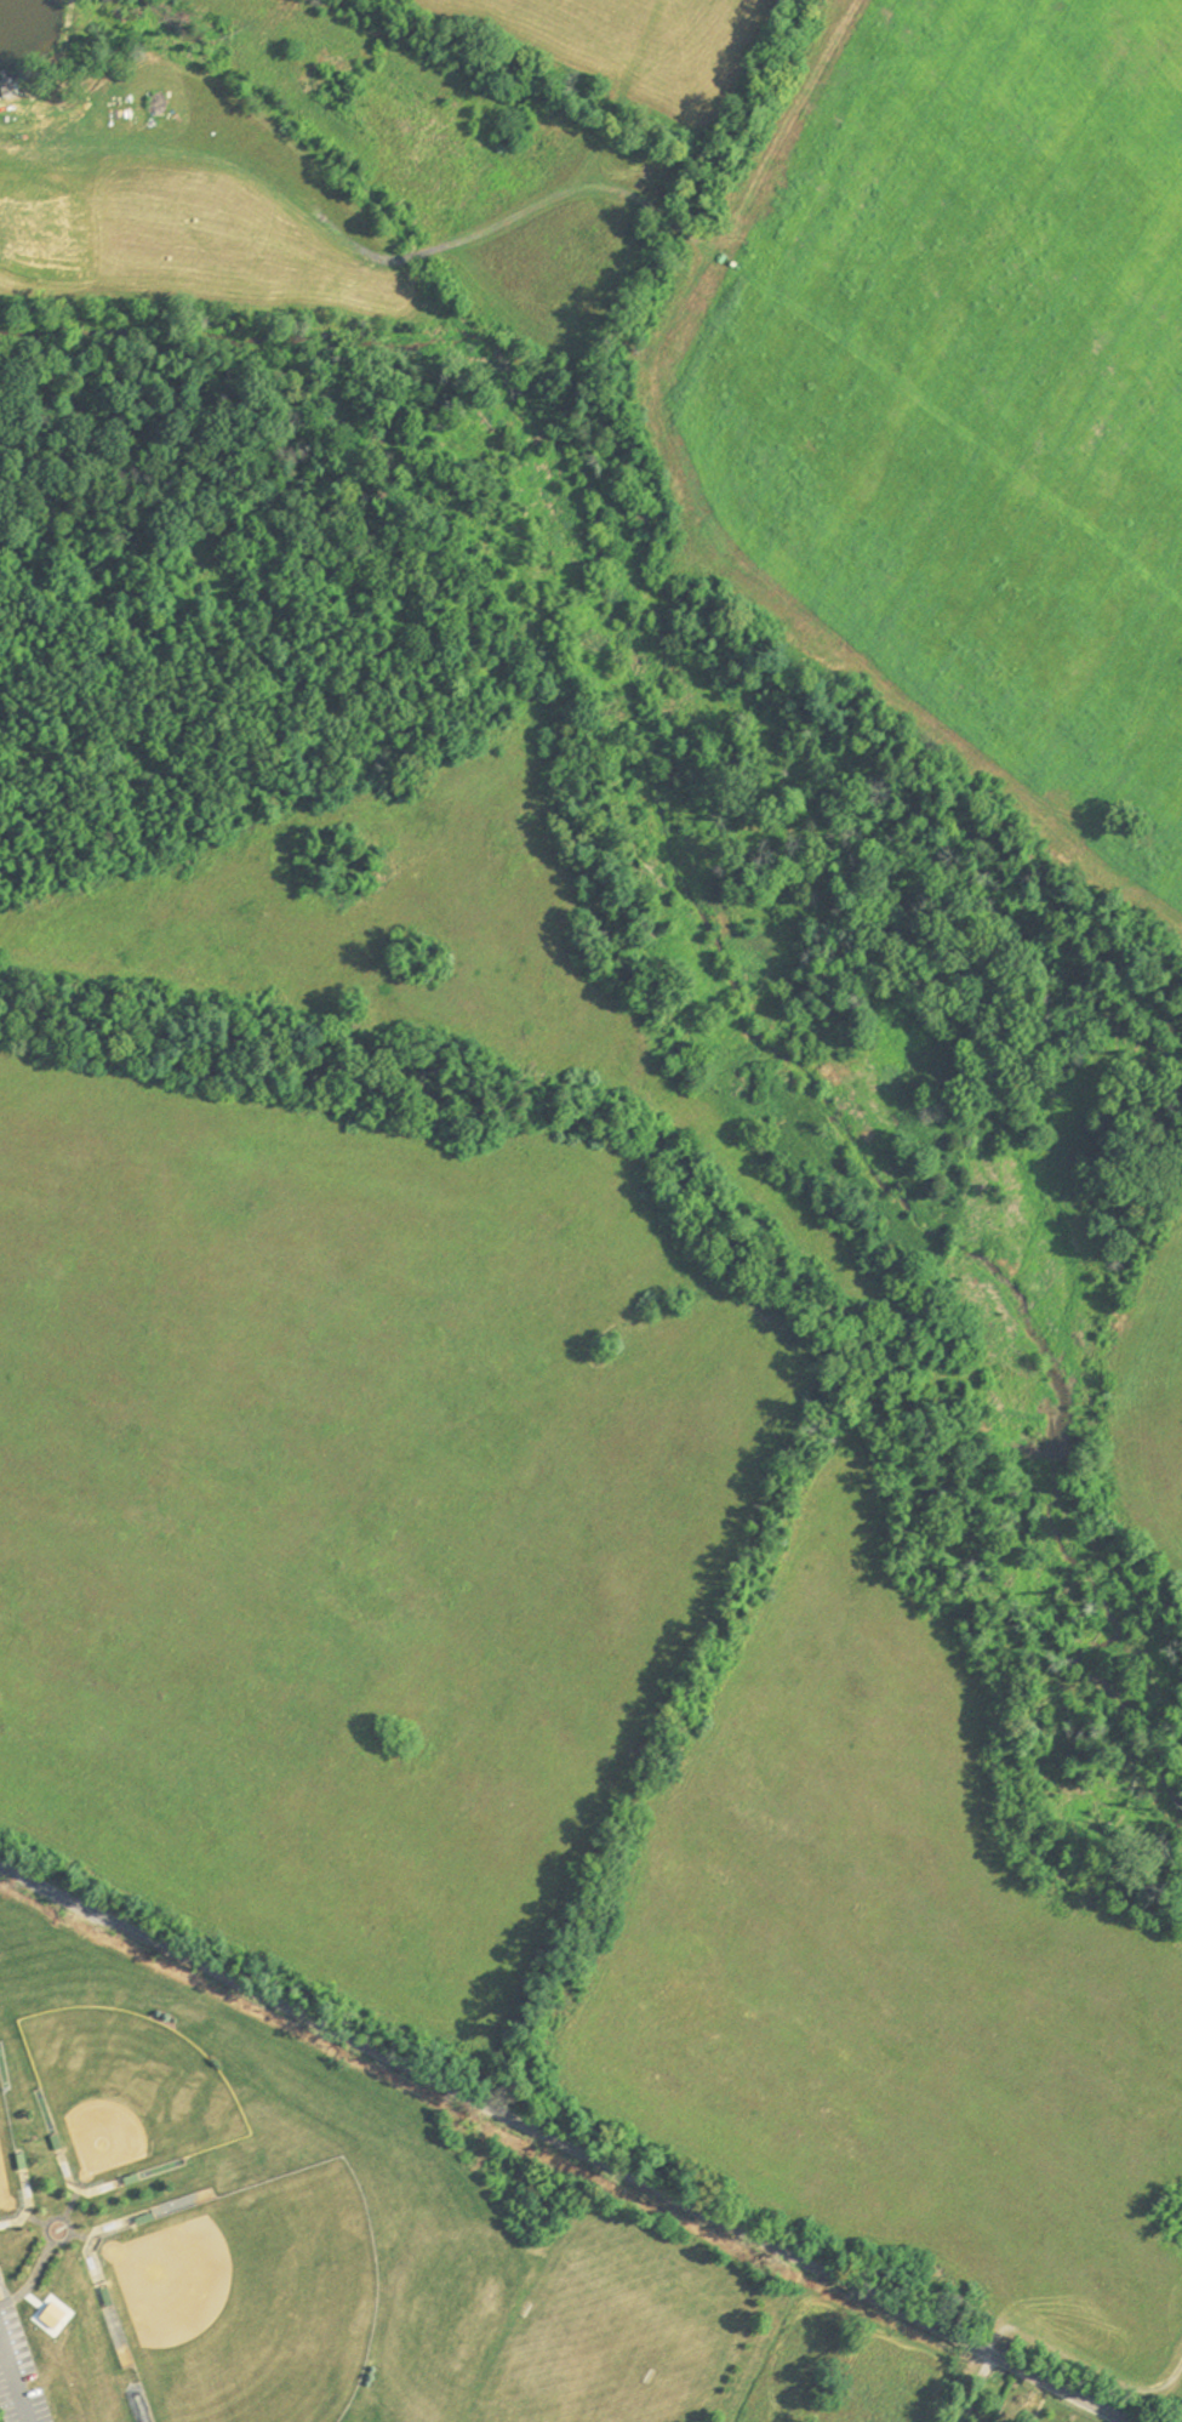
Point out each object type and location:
crop: (621, 44)
crop: (182, 204)
crop: (556, 241)
crop: (963, 401)
crop: (412, 954)
crop: (1153, 1400)
crop: (350, 1518)
crop: (891, 1978)
park: (131, 2086)
road: (564, 2142)
park: (5, 2192)
park: (218, 2207)
park: (257, 2304)
park: (594, 2358)
road: (1083, 2363)
road: (16, 2375)
crop: (1176, 2392)

